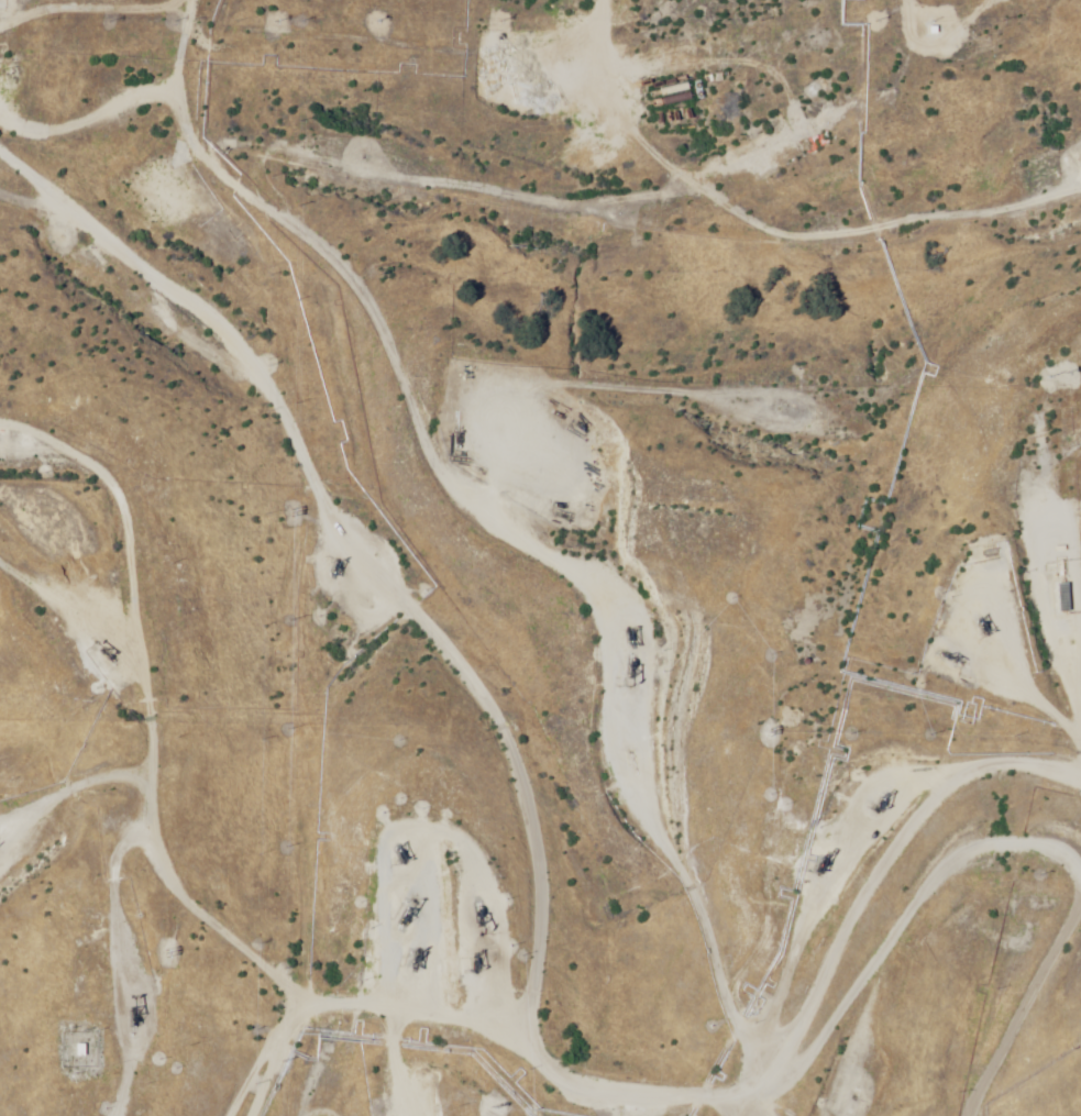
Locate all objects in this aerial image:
road: (1080, 0)
road: (742, 196)
road: (278, 198)
road: (669, 440)
road: (123, 541)
road: (450, 549)
building: (1063, 598)
road: (142, 733)
road: (1076, 843)
road: (389, 870)
road: (926, 914)
road: (74, 1053)
road: (234, 1076)
road: (411, 1079)
road: (595, 1085)

